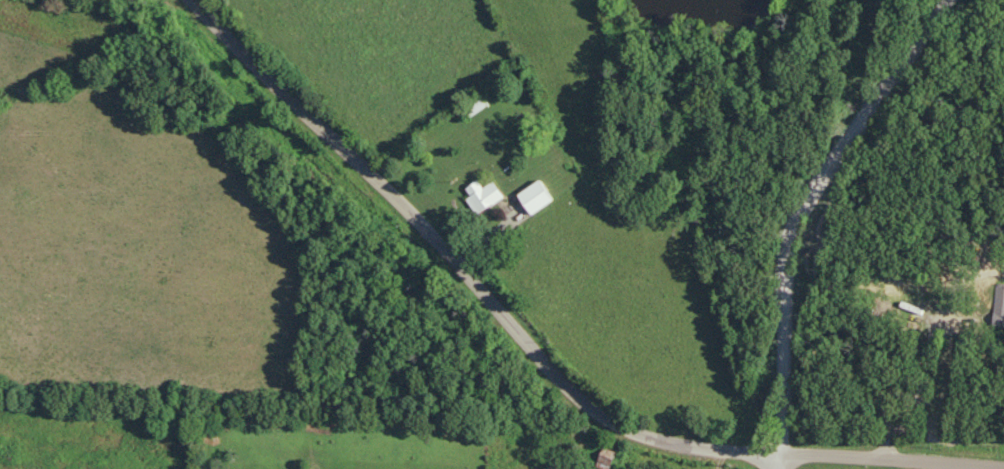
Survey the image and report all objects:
building: (478, 195)
building: (531, 197)
road: (796, 214)
building: (997, 305)
road: (538, 352)
building: (607, 459)

